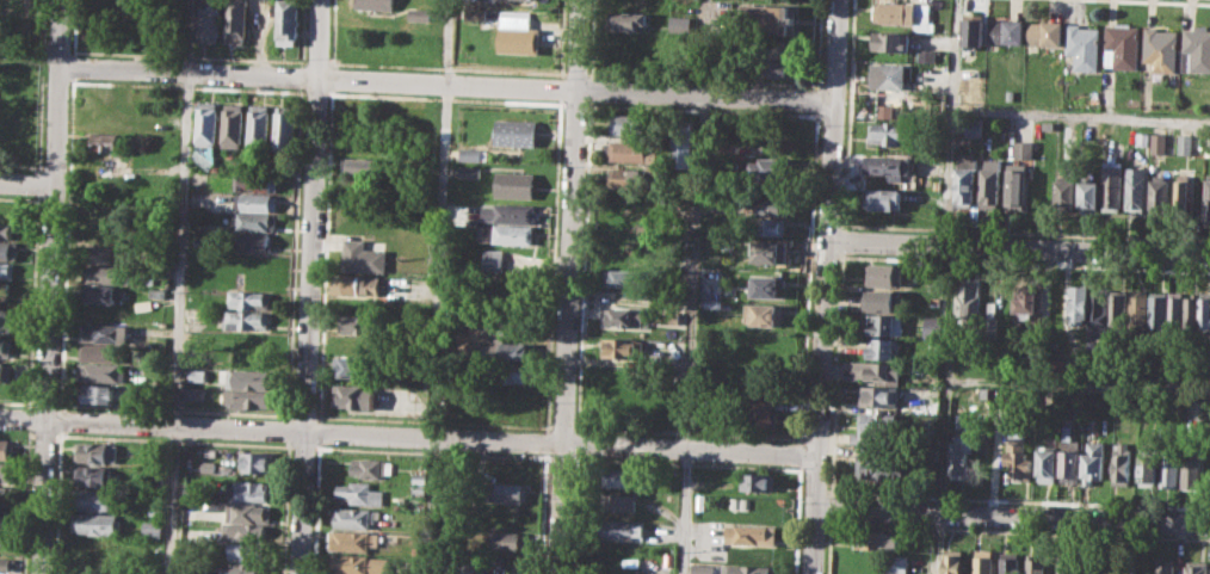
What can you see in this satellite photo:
road: (1175, 1)
building: (377, 4)
building: (477, 11)
building: (420, 13)
building: (897, 13)
building: (768, 19)
building: (235, 20)
building: (629, 20)
building: (288, 21)
building: (209, 23)
building: (679, 23)
road: (74, 27)
building: (974, 29)
building: (1006, 31)
road: (302, 32)
road: (332, 32)
building: (1045, 32)
building: (142, 38)
building: (519, 38)
road: (561, 38)
road: (592, 38)
building: (893, 41)
road: (816, 43)
building: (1084, 45)
building: (1121, 47)
building: (774, 48)
building: (1160, 50)
building: (1197, 50)
road: (30, 55)
road: (190, 55)
road: (315, 61)
road: (73, 66)
road: (445, 67)
building: (772, 68)
road: (575, 74)
building: (891, 75)
road: (301, 76)
road: (331, 76)
road: (699, 78)
road: (446, 84)
road: (189, 87)
road: (560, 88)
road: (589, 88)
road: (314, 93)
building: (1008, 94)
road: (443, 98)
road: (815, 98)
road: (41, 103)
road: (573, 104)
road: (698, 109)
road: (847, 112)
road: (1081, 113)
road: (951, 122)
building: (206, 123)
building: (231, 124)
building: (631, 124)
building: (258, 125)
building: (284, 126)
building: (973, 126)
building: (888, 131)
building: (517, 132)
building: (1142, 137)
building: (106, 140)
building: (1157, 142)
building: (1185, 142)
building: (683, 143)
building: (1209, 147)
building: (1023, 149)
building: (628, 152)
building: (470, 153)
building: (884, 163)
building: (289, 166)
building: (360, 167)
building: (770, 168)
road: (38, 169)
building: (470, 171)
building: (628, 178)
building: (964, 180)
road: (38, 183)
building: (258, 183)
building: (989, 184)
road: (27, 185)
building: (516, 185)
building: (1111, 185)
building: (1014, 186)
building: (1135, 187)
building: (1181, 191)
building: (1157, 192)
building: (1066, 193)
building: (1088, 195)
road: (18, 198)
building: (883, 198)
building: (1206, 199)
building: (258, 202)
building: (766, 206)
building: (510, 212)
building: (100, 214)
road: (443, 218)
building: (253, 221)
building: (766, 226)
building: (7, 229)
road: (1025, 232)
building: (507, 233)
building: (101, 234)
road: (841, 239)
building: (203, 241)
building: (251, 241)
road: (67, 242)
road: (1019, 246)
building: (7, 249)
building: (768, 251)
building: (104, 253)
road: (294, 253)
road: (325, 254)
building: (362, 257)
building: (508, 261)
road: (1025, 263)
road: (552, 265)
road: (582, 266)
building: (7, 271)
building: (105, 273)
road: (808, 274)
building: (885, 274)
building: (624, 278)
building: (712, 280)
building: (936, 284)
building: (360, 285)
building: (765, 285)
road: (51, 286)
road: (180, 286)
road: (308, 286)
road: (568, 286)
road: (693, 286)
road: (827, 286)
building: (5, 290)
building: (103, 294)
building: (968, 296)
building: (249, 298)
building: (881, 300)
road: (33, 301)
building: (1026, 302)
building: (712, 303)
building: (1078, 303)
building: (1117, 308)
building: (1137, 309)
building: (1156, 309)
building: (1174, 309)
building: (1191, 310)
building: (1205, 310)
building: (1098, 311)
building: (763, 314)
building: (628, 315)
building: (990, 315)
building: (673, 316)
building: (246, 320)
building: (6, 321)
building: (359, 323)
building: (883, 325)
building: (932, 327)
building: (106, 333)
building: (249, 340)
building: (6, 347)
building: (622, 347)
building: (882, 347)
building: (510, 350)
building: (105, 353)
building: (354, 366)
building: (6, 371)
building: (872, 371)
building: (105, 372)
building: (513, 372)
building: (197, 374)
road: (835, 374)
building: (246, 378)
road: (946, 379)
road: (1079, 383)
building: (105, 393)
building: (195, 393)
building: (879, 394)
building: (353, 396)
building: (248, 399)
road: (17, 402)
road: (45, 402)
road: (174, 408)
building: (761, 413)
road: (303, 415)
road: (29, 418)
road: (60, 419)
road: (432, 420)
building: (876, 426)
road: (562, 427)
road: (288, 431)
road: (317, 431)
road: (686, 432)
road: (31, 434)
road: (43, 434)
road: (409, 434)
road: (171, 440)
road: (545, 442)
road: (576, 443)
building: (7, 446)
road: (301, 448)
building: (97, 451)
road: (431, 452)
road: (800, 452)
building: (962, 455)
building: (1069, 456)
road: (558, 457)
road: (575, 457)
building: (1019, 457)
building: (255, 462)
road: (681, 462)
building: (1094, 462)
building: (1122, 463)
building: (1048, 464)
building: (882, 465)
building: (1148, 465)
road: (800, 467)
building: (371, 468)
building: (1169, 468)
building: (1192, 468)
building: (7, 471)
building: (98, 475)
building: (619, 476)
building: (420, 477)
building: (758, 481)
building: (252, 489)
building: (508, 492)
building: (360, 493)
building: (7, 495)
building: (418, 498)
road: (1020, 498)
building: (100, 499)
road: (26, 501)
building: (619, 501)
building: (735, 501)
road: (57, 502)
road: (285, 507)
road: (315, 507)
road: (831, 508)
building: (156, 510)
building: (251, 512)
road: (542, 513)
building: (353, 517)
building: (5, 518)
road: (1013, 518)
building: (97, 523)
building: (153, 527)
building: (623, 527)
road: (1019, 530)
building: (251, 532)
building: (751, 533)
building: (7, 538)
building: (508, 538)
building: (878, 539)
building: (353, 541)
building: (98, 544)
road: (940, 544)
road: (829, 547)
building: (247, 550)
building: (953, 561)
building: (984, 561)
building: (896, 562)
building: (1010, 563)
building: (7, 564)
building: (98, 564)
building: (358, 564)
building: (1035, 566)
building: (1165, 566)
building: (243, 568)
building: (702, 568)
building: (747, 569)
building: (1197, 569)

